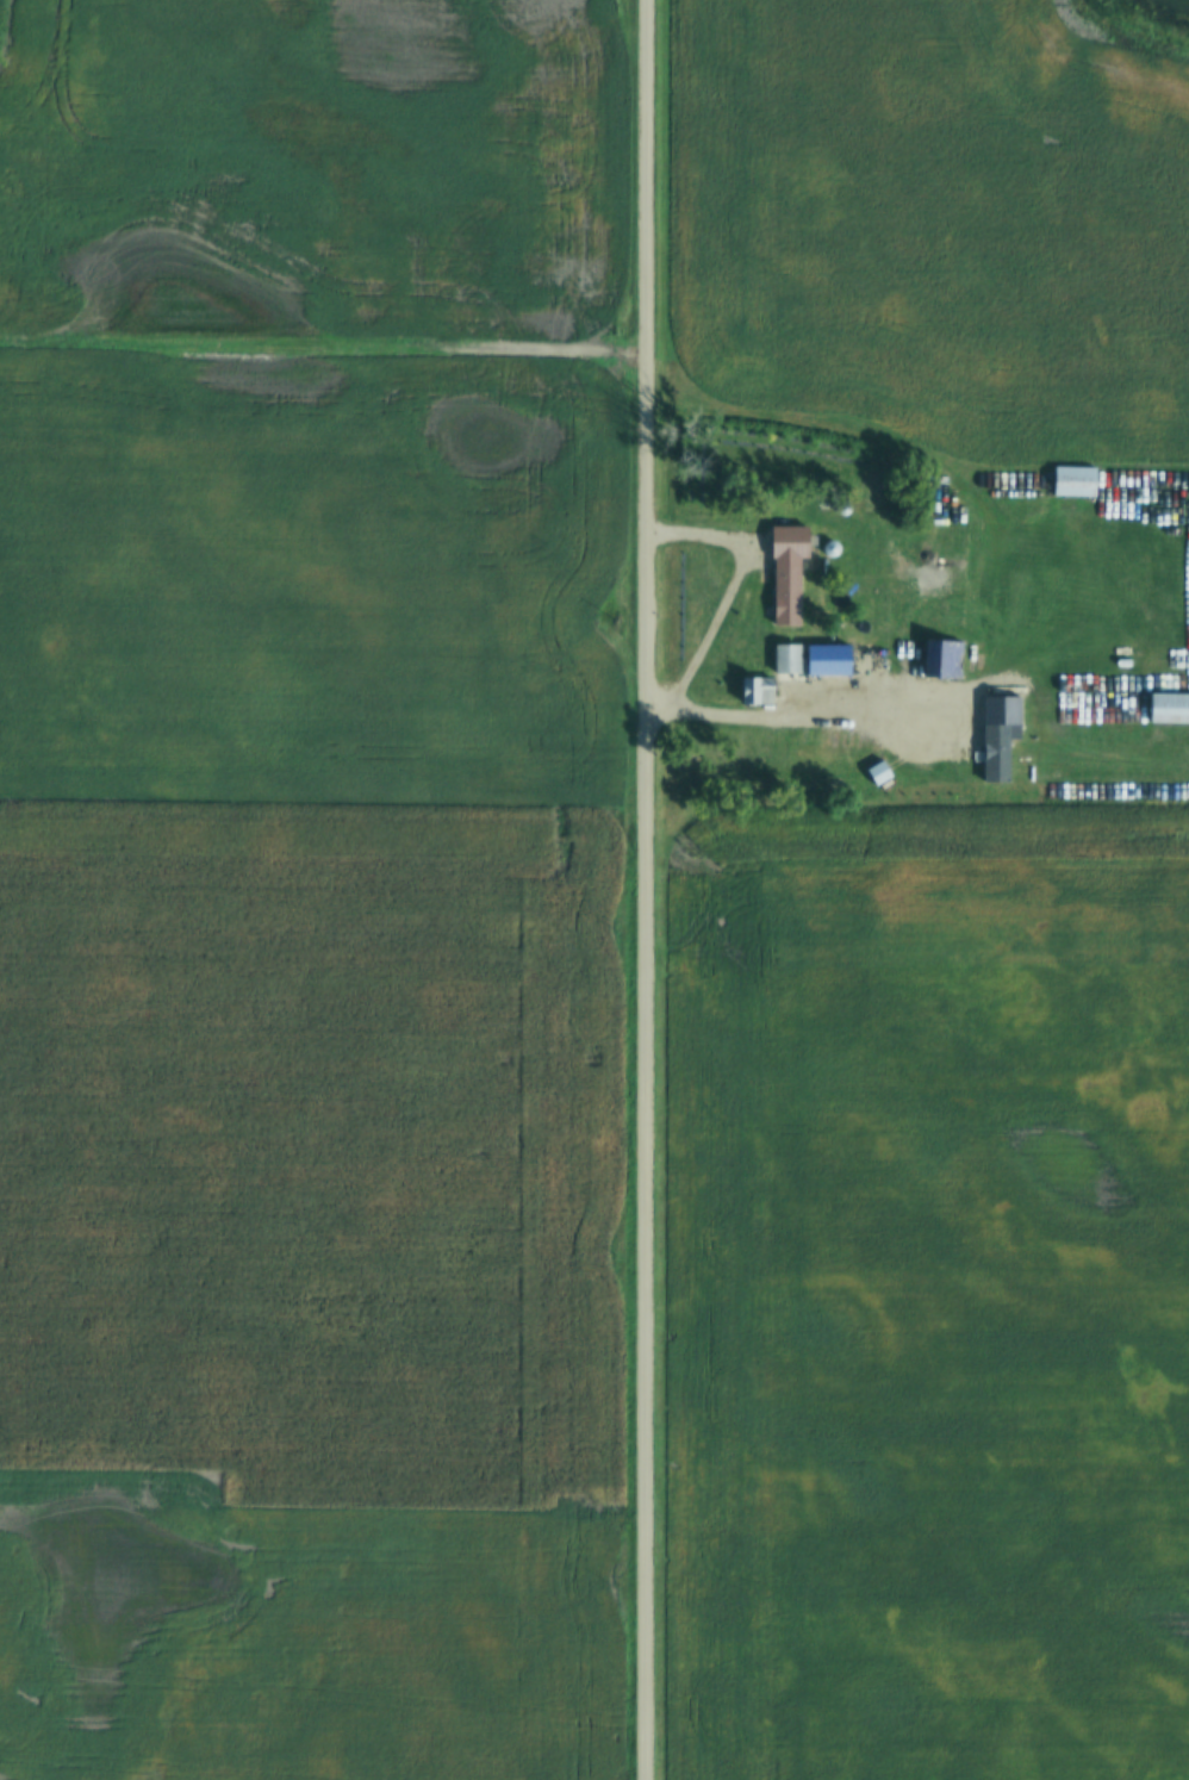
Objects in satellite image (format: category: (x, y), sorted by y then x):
road: (324, 348)
building: (1073, 481)
building: (785, 596)
building: (942, 660)
building: (786, 661)
building: (1028, 689)
building: (757, 691)
building: (1169, 708)
building: (941, 747)
road: (908, 760)
building: (878, 773)
road: (649, 890)

